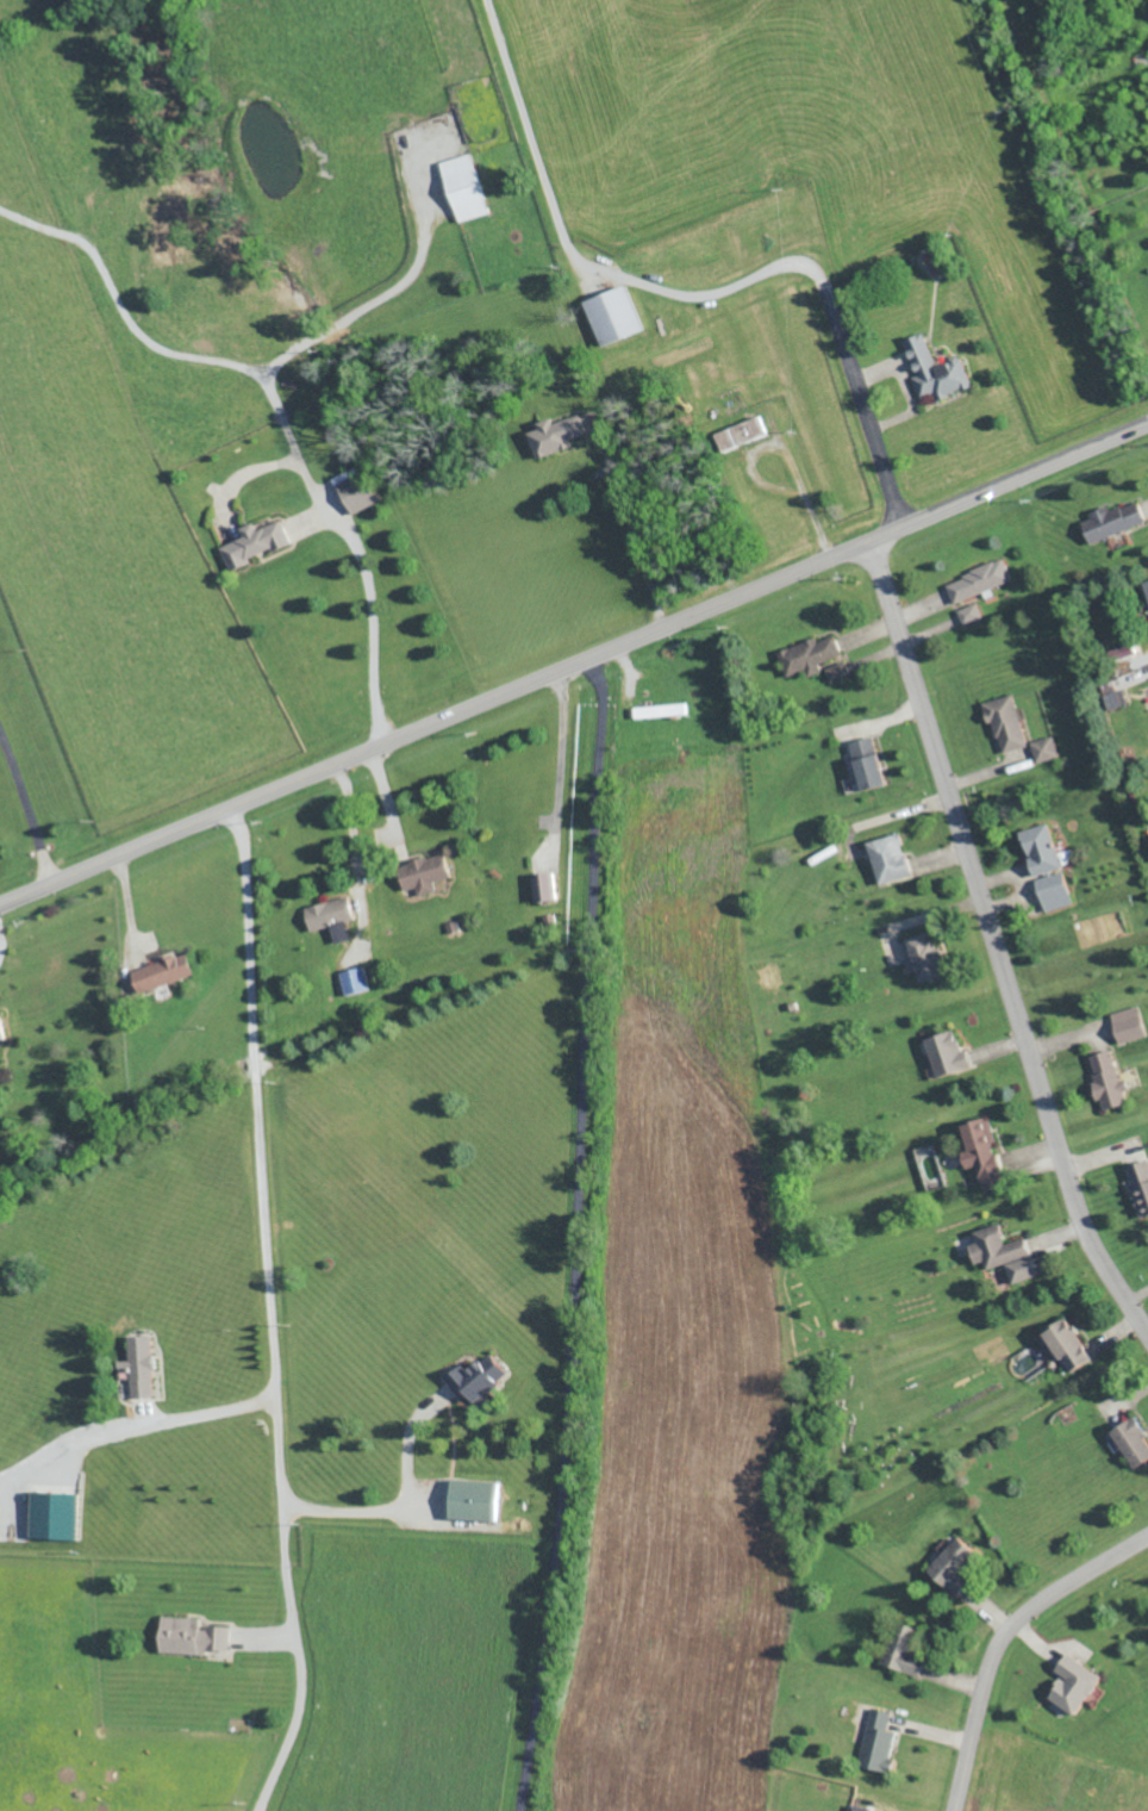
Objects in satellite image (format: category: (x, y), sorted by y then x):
building: (463, 187)
road: (693, 301)
road: (126, 310)
building: (612, 315)
building: (935, 369)
building: (742, 432)
building: (556, 434)
road: (295, 446)
road: (785, 455)
building: (358, 492)
building: (1113, 521)
road: (634, 528)
building: (256, 542)
building: (979, 580)
building: (1146, 586)
building: (971, 614)
building: (810, 655)
road: (576, 670)
building: (838, 671)
building: (1115, 699)
building: (660, 710)
building: (1004, 722)
building: (1043, 748)
building: (868, 763)
road: (27, 805)
building: (888, 858)
building: (1046, 866)
building: (424, 873)
building: (544, 886)
building: (330, 913)
building: (341, 932)
road: (0, 945)
road: (992, 946)
building: (923, 957)
building: (168, 971)
building: (355, 981)
building: (1128, 1025)
building: (1, 1031)
building: (946, 1053)
building: (1108, 1079)
building: (982, 1153)
building: (1140, 1187)
road: (582, 1237)
building: (1003, 1253)
road: (269, 1311)
building: (1067, 1345)
building: (141, 1367)
building: (476, 1379)
road: (206, 1418)
building: (1133, 1443)
road: (407, 1448)
road: (63, 1449)
building: (473, 1500)
road: (360, 1514)
building: (52, 1516)
building: (955, 1567)
building: (192, 1636)
road: (1004, 1638)
building: (904, 1650)
building: (1074, 1685)
building: (879, 1740)
building: (859, 1807)

